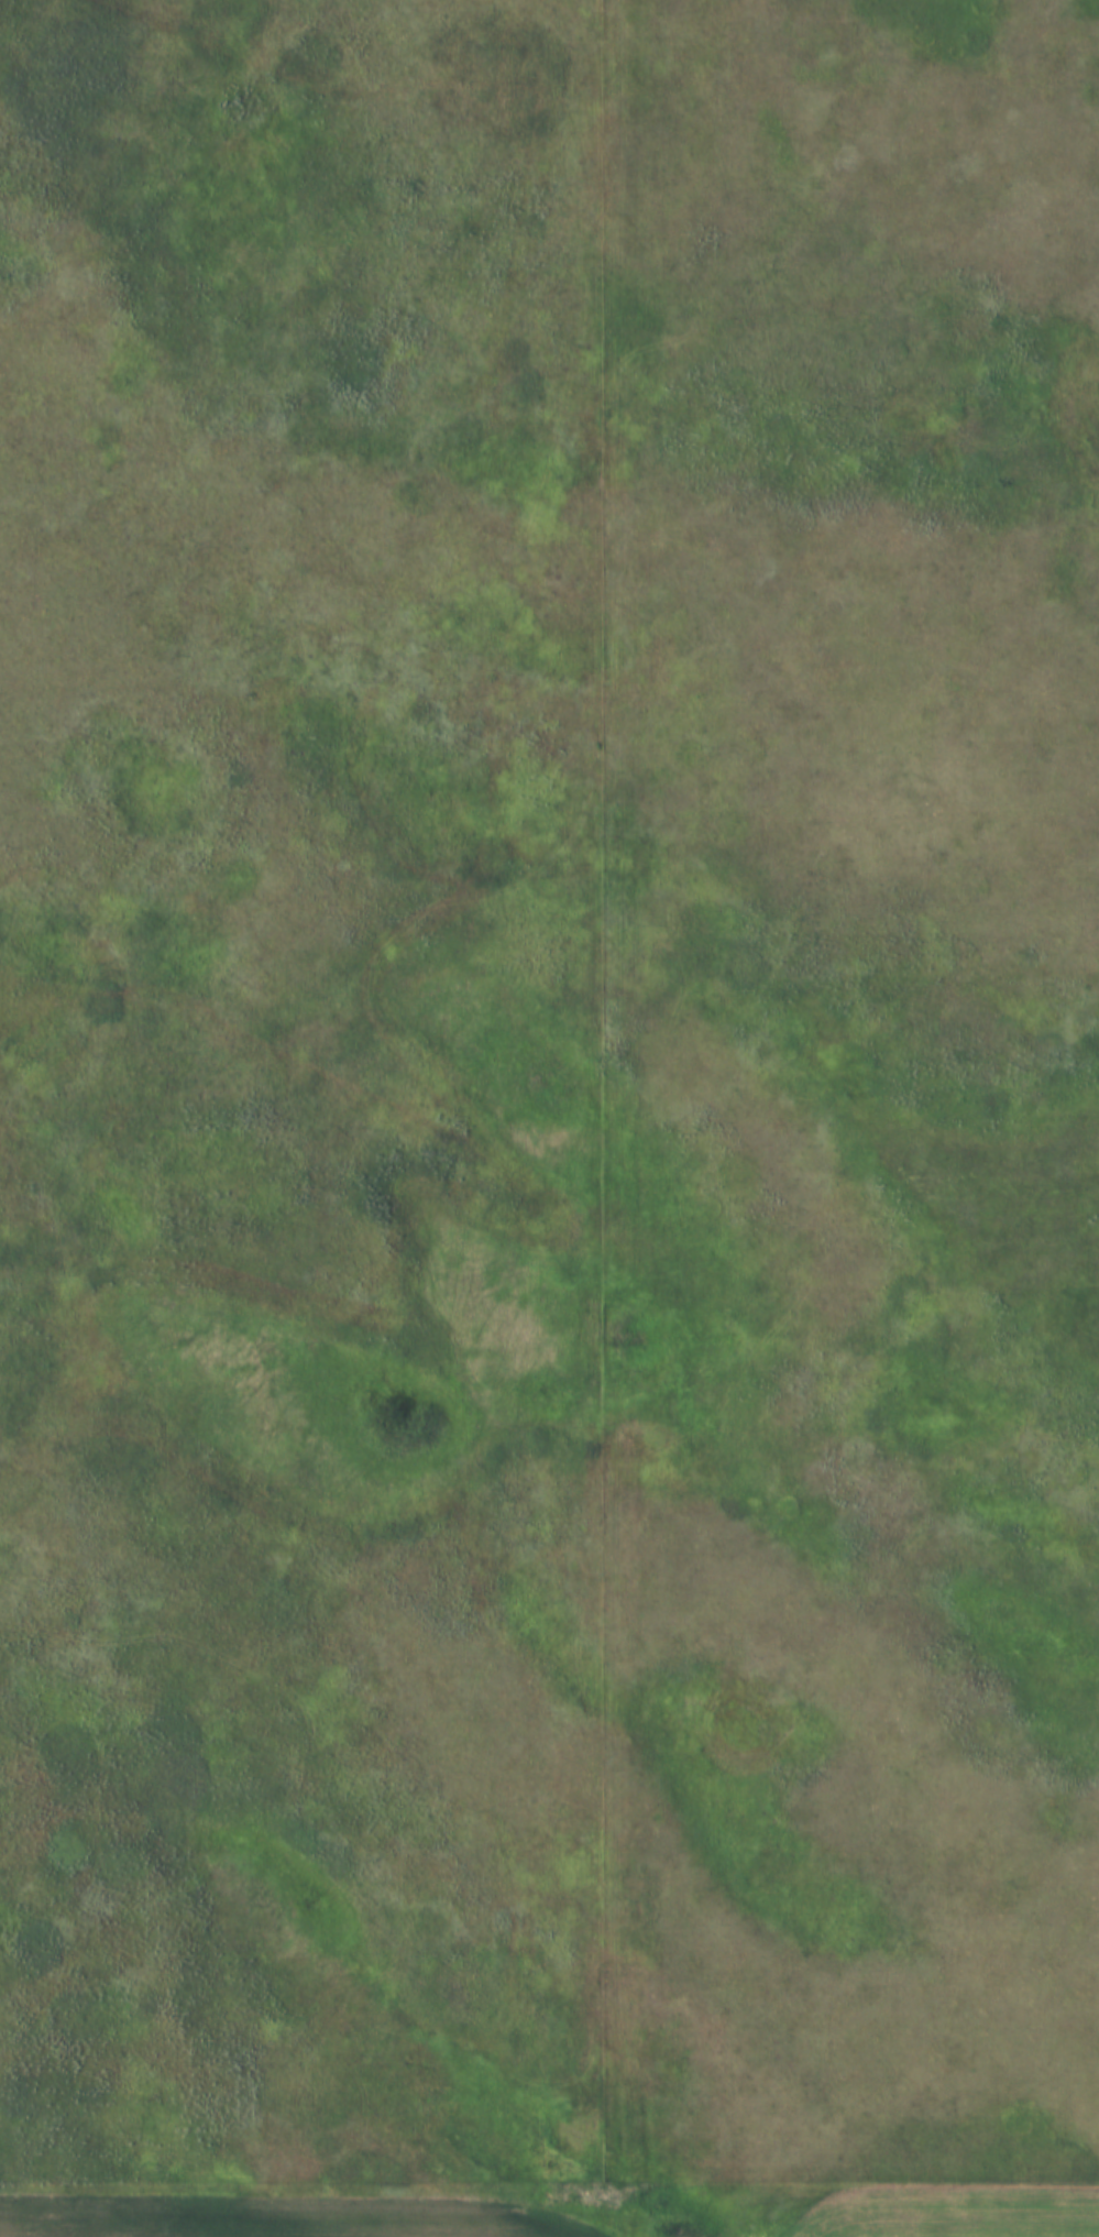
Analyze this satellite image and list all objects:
road: (635, 1118)
road: (549, 2191)

